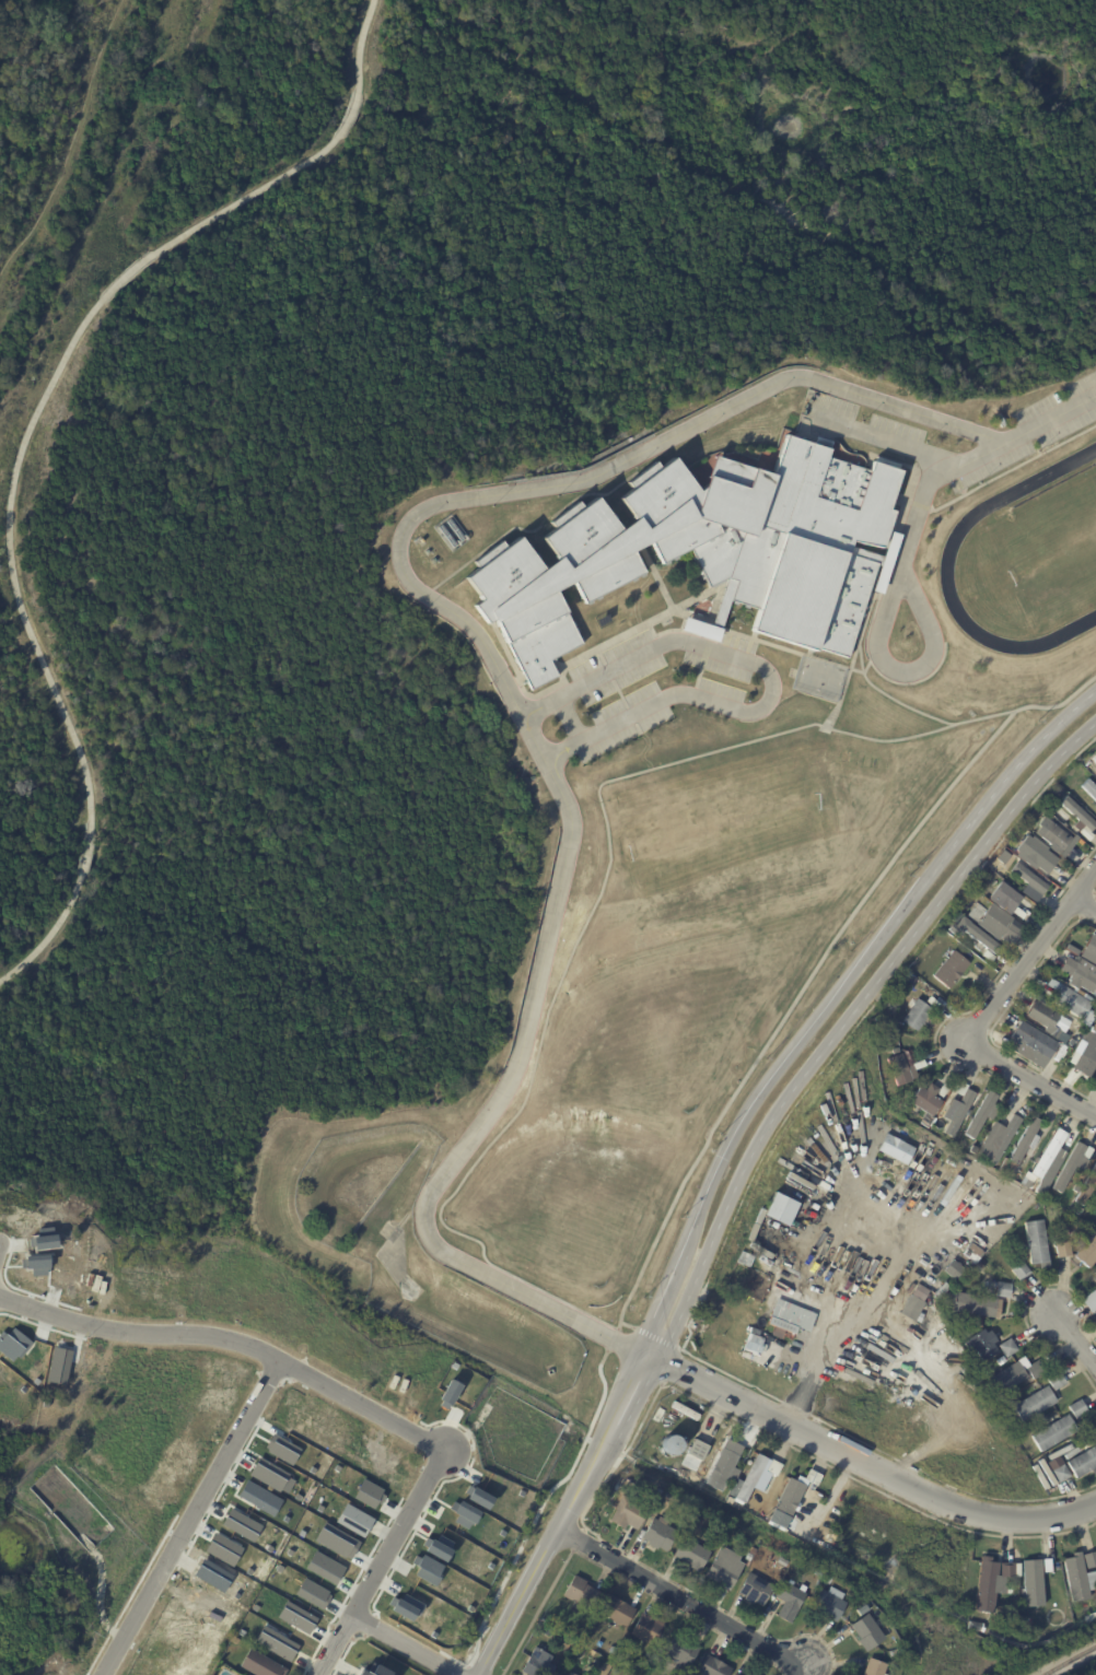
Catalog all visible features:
parking lot: (861, 419)
parking lot: (1040, 430)
road: (25, 435)
building: (818, 442)
road: (911, 453)
track: (948, 549)
building: (708, 550)
road: (877, 635)
road: (480, 642)
road: (768, 678)
parking lot: (655, 682)
road: (571, 719)
building: (1092, 766)
building: (1071, 774)
building: (1089, 788)
building: (1056, 792)
building: (1080, 819)
building: (1057, 838)
building: (1038, 855)
building: (1029, 879)
building: (980, 886)
building: (1007, 897)
road: (1085, 901)
building: (966, 902)
building: (1021, 913)
building: (996, 920)
building: (961, 938)
building: (982, 938)
building: (1083, 946)
building: (989, 956)
building: (951, 970)
building: (1082, 976)
building: (934, 1002)
building: (1070, 1003)
road: (983, 1009)
building: (1039, 1012)
building: (1093, 1012)
building: (917, 1015)
building: (1085, 1022)
building: (1070, 1026)
building: (1056, 1034)
building: (1037, 1041)
building: (1088, 1045)
building: (1017, 1049)
building: (920, 1064)
building: (1077, 1066)
building: (901, 1069)
building: (944, 1090)
building: (926, 1100)
building: (959, 1109)
building: (980, 1114)
building: (1046, 1128)
building: (1001, 1137)
building: (1026, 1141)
building: (972, 1149)
building: (1047, 1155)
road: (735, 1157)
building: (893, 1164)
building: (1072, 1164)
building: (1005, 1166)
building: (1086, 1186)
building: (776, 1218)
road: (4, 1242)
building: (1037, 1243)
building: (1064, 1250)
building: (971, 1252)
building: (1088, 1252)
building: (1095, 1265)
building: (980, 1266)
building: (1022, 1270)
building: (1095, 1275)
building: (1095, 1280)
building: (1004, 1289)
building: (1089, 1297)
building: (913, 1301)
building: (973, 1304)
building: (782, 1320)
road: (856, 1321)
road: (233, 1340)
road: (1076, 1342)
building: (984, 1345)
building: (1008, 1347)
building: (1017, 1375)
building: (1057, 1381)
building: (1036, 1404)
building: (1078, 1408)
building: (1054, 1433)
building: (669, 1444)
building: (281, 1449)
building: (702, 1451)
building: (1084, 1463)
road: (863, 1465)
building: (730, 1466)
building: (774, 1467)
building: (268, 1474)
building: (1062, 1474)
building: (750, 1478)
building: (813, 1479)
building: (713, 1485)
building: (654, 1486)
building: (754, 1503)
building: (788, 1504)
road: (196, 1513)
building: (629, 1513)
building: (353, 1520)
building: (241, 1524)
building: (798, 1533)
building: (660, 1535)
building: (222, 1549)
road: (386, 1556)
building: (693, 1556)
building: (749, 1557)
building: (1091, 1560)
building: (782, 1561)
building: (744, 1566)
building: (1048, 1566)
building: (324, 1567)
building: (1008, 1570)
building: (724, 1572)
building: (828, 1578)
building: (1078, 1578)
building: (1033, 1583)
building: (987, 1585)
building: (756, 1590)
building: (312, 1593)
building: (581, 1593)
road: (688, 1600)
building: (790, 1601)
building: (829, 1605)
building: (617, 1612)
building: (295, 1617)
building: (841, 1621)
building: (975, 1627)
building: (649, 1628)
building: (546, 1630)
building: (868, 1632)
building: (275, 1642)
road: (408, 1642)
building: (613, 1651)
building: (681, 1652)
railway: (1069, 1659)
building: (538, 1663)
building: (260, 1665)
building: (710, 1666)
building: (876, 1667)
building: (605, 1670)
building: (637, 1670)
building: (373, 1672)
building: (571, 1674)
building: (736, 1674)
building: (853, 1674)

